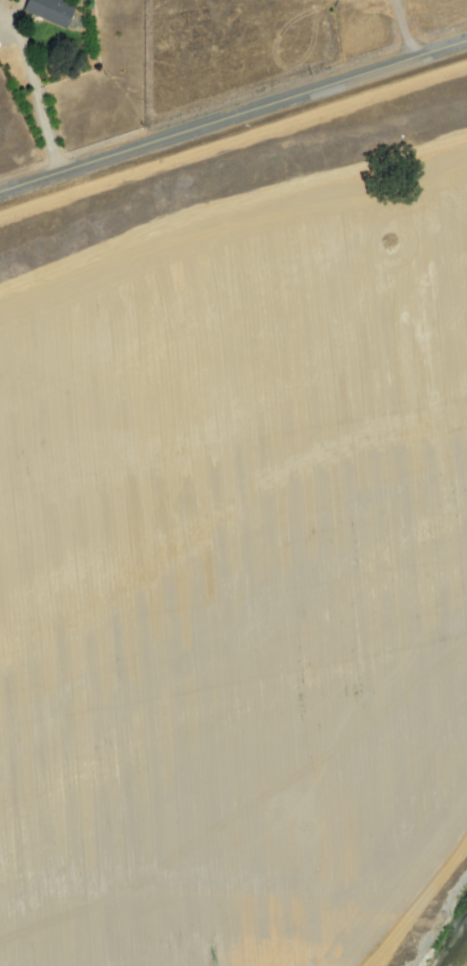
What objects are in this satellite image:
building: (46, 10)
road: (28, 89)
road: (233, 113)
river: (463, 960)

